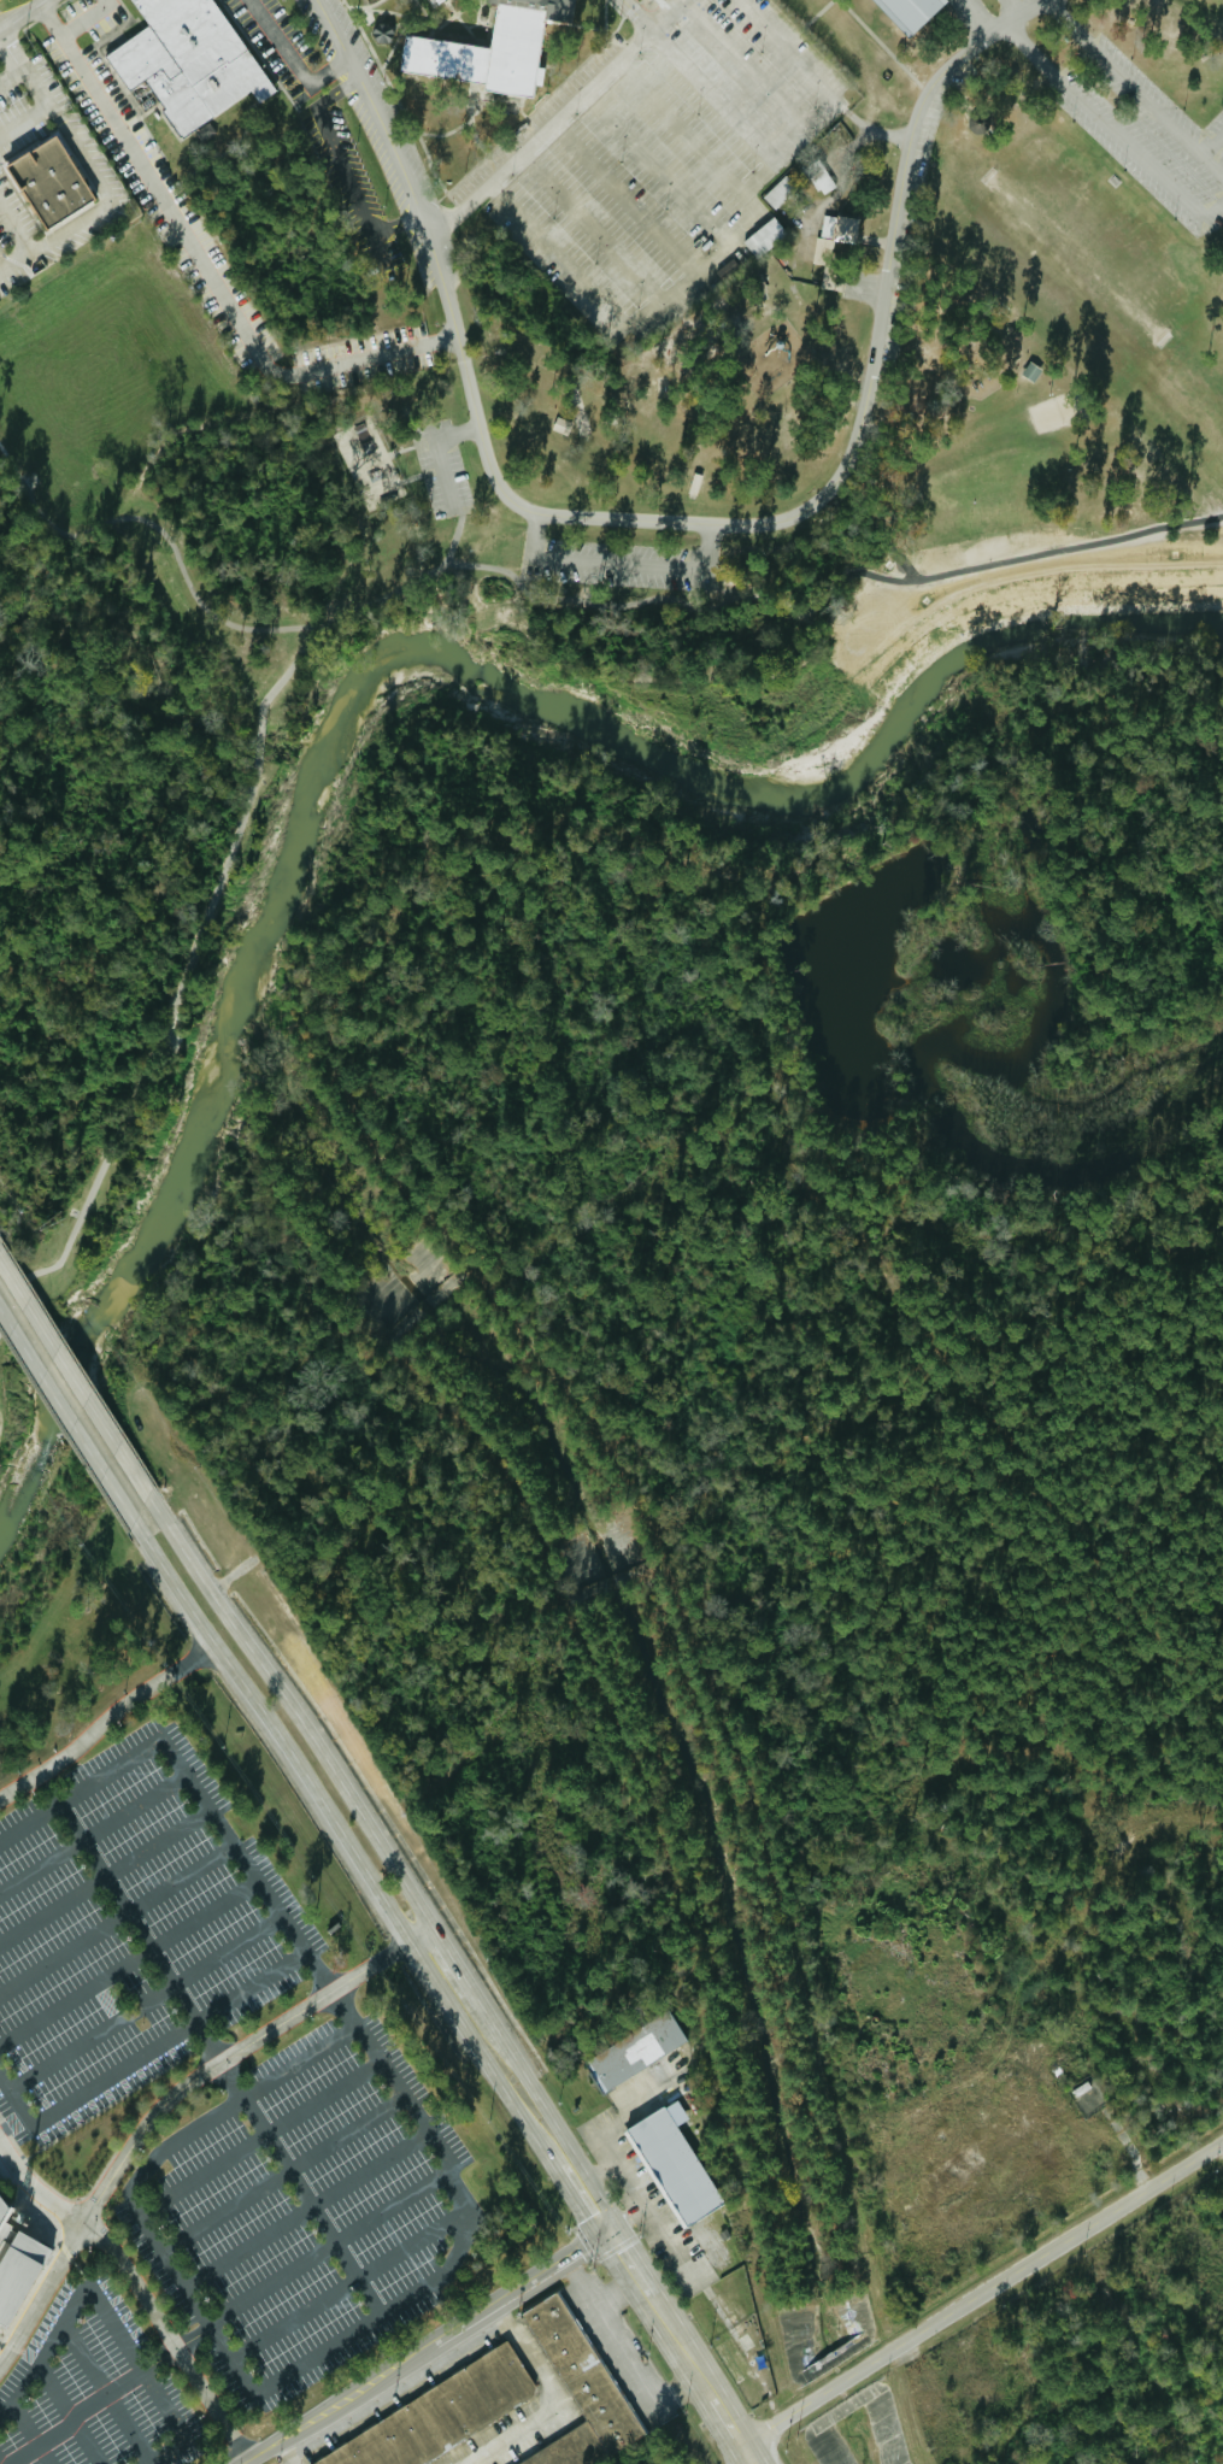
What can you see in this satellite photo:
parking lot: (1000, 0)
building: (435, 2)
road: (1016, 6)
parking lot: (969, 10)
building: (909, 12)
road: (663, 14)
road: (22, 16)
road: (86, 18)
parking lot: (314, 29)
building: (382, 33)
parking lot: (278, 46)
building: (493, 49)
road: (790, 51)
road: (292, 61)
building: (186, 66)
road: (11, 75)
road: (1136, 90)
parking lot: (381, 99)
road: (729, 107)
road: (1092, 111)
parking lot: (535, 116)
road: (55, 119)
road: (24, 124)
parking lot: (1145, 130)
road: (541, 134)
road: (868, 134)
parking lot: (377, 152)
parking lot: (671, 165)
road: (658, 166)
road: (343, 171)
road: (402, 176)
building: (49, 183)
parking lot: (349, 186)
building: (780, 192)
road: (627, 198)
parking lot: (916, 204)
road: (593, 225)
road: (14, 229)
building: (835, 233)
building: (764, 236)
road: (54, 239)
park: (1077, 254)
parking lot: (419, 259)
road: (204, 269)
road: (700, 271)
park: (768, 400)
park: (1058, 410)
road: (455, 434)
road: (849, 452)
road: (6, 459)
parking lot: (441, 467)
park: (369, 469)
road: (441, 470)
road: (490, 539)
road: (171, 548)
parking lot: (619, 563)
road: (615, 566)
road: (537, 577)
road: (716, 587)
road: (716, 605)
river: (349, 682)
road: (253, 742)
road: (147, 1062)
road: (76, 1383)
road: (65, 1415)
road: (293, 1712)
road: (106, 1718)
road: (31, 1822)
road: (94, 1835)
road: (345, 1841)
road: (159, 1842)
road: (53, 1910)
road: (117, 1919)
parking lot: (130, 1928)
road: (421, 1933)
road: (129, 1962)
road: (211, 1962)
road: (457, 1964)
road: (212, 2042)
road: (83, 2045)
building: (636, 2050)
road: (143, 2053)
road: (302, 2062)
road: (158, 2109)
road: (548, 2113)
road: (259, 2139)
road: (1222, 2145)
building: (674, 2163)
road: (283, 2175)
road: (96, 2178)
road: (581, 2199)
parking lot: (305, 2210)
road: (306, 2210)
road: (470, 2213)
traffic signals: (607, 2230)
road: (328, 2247)
road: (72, 2260)
building: (17, 2263)
road: (627, 2264)
road: (349, 2284)
road: (140, 2290)
road: (613, 2292)
road: (982, 2294)
road: (96, 2300)
road: (678, 2346)
road: (424, 2347)
parking lot: (619, 2351)
road: (622, 2356)
building: (586, 2370)
road: (399, 2388)
parking lot: (94, 2389)
road: (106, 2393)
road: (104, 2394)
parking lot: (400, 2399)
road: (554, 2400)
building: (442, 2413)
road: (67, 2416)
road: (725, 2421)
road: (28, 2434)
parking lot: (511, 2436)
building: (574, 2447)
road: (288, 2451)
road: (165, 2452)
road: (747, 2456)
road: (243, 2463)

